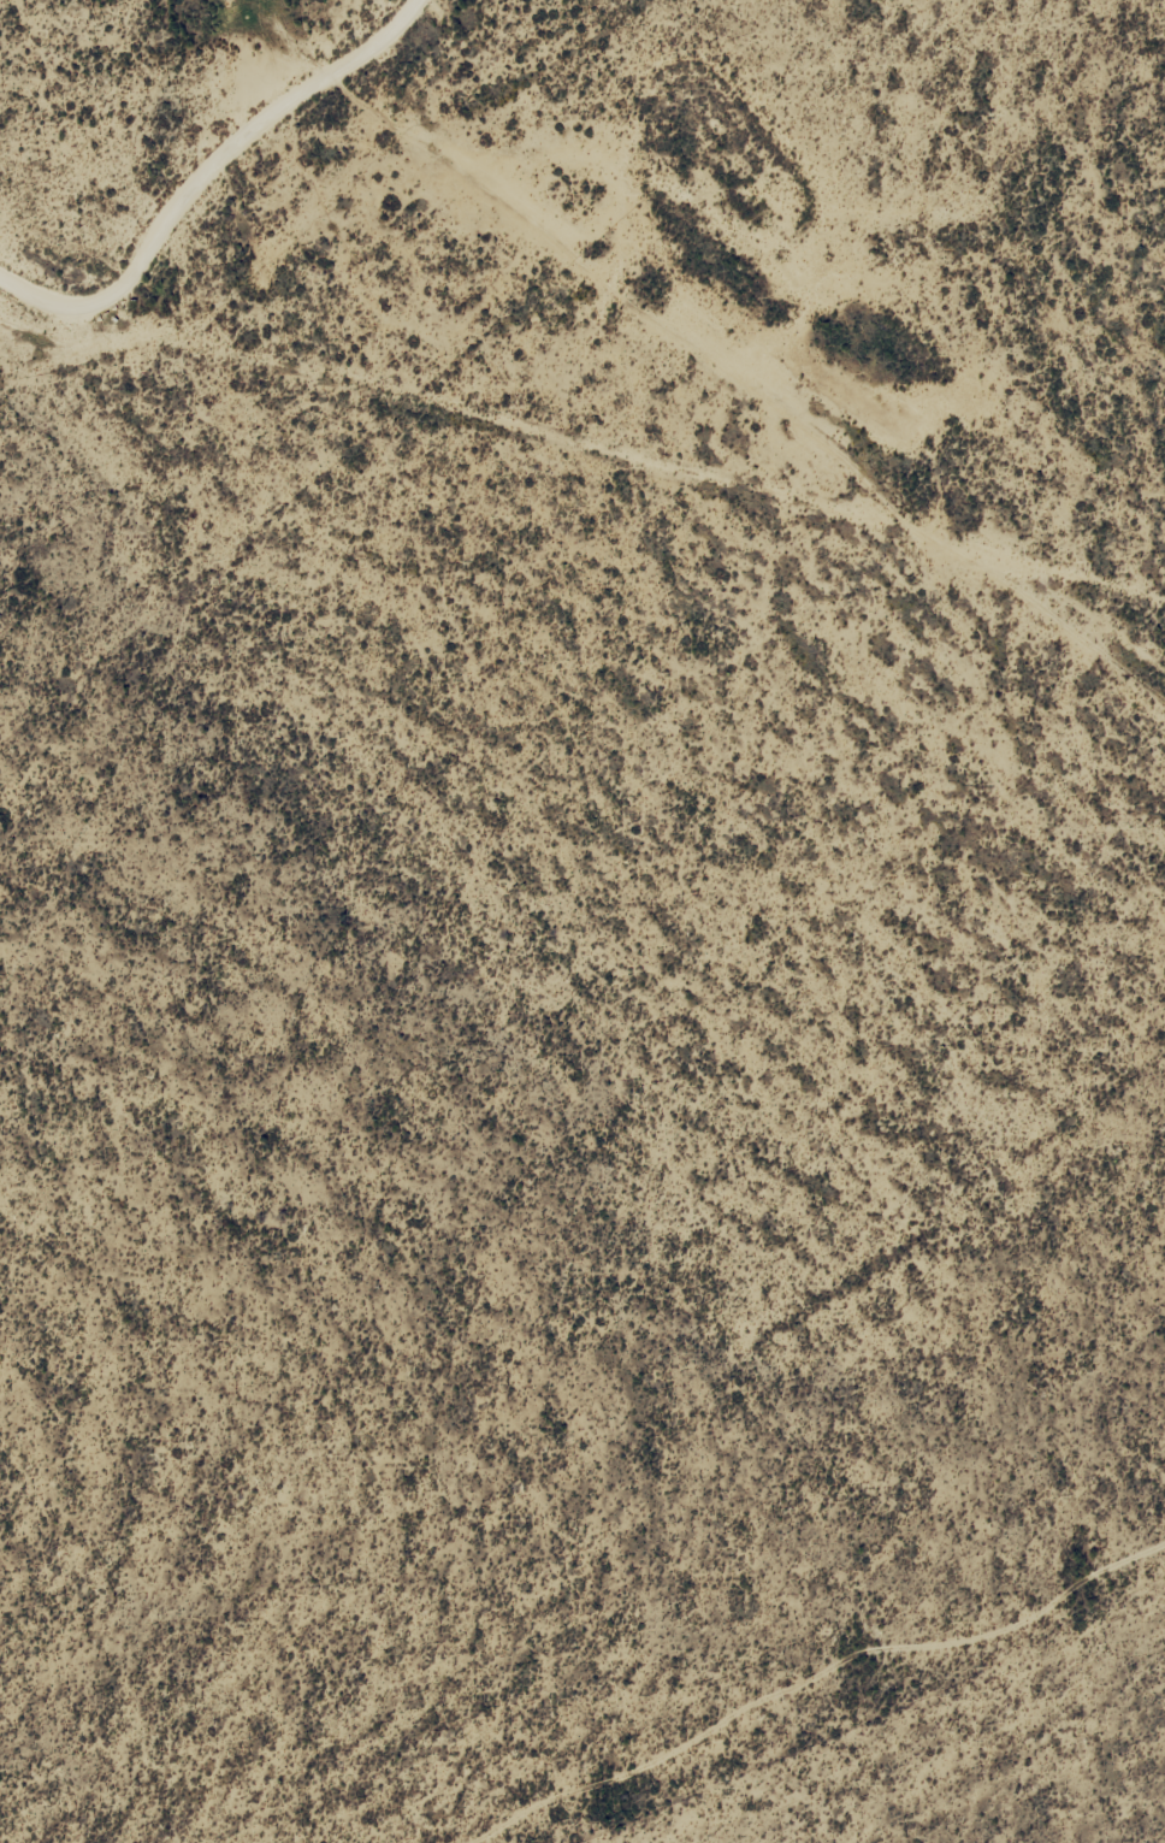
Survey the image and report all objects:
road: (217, 184)
road: (20, 356)

